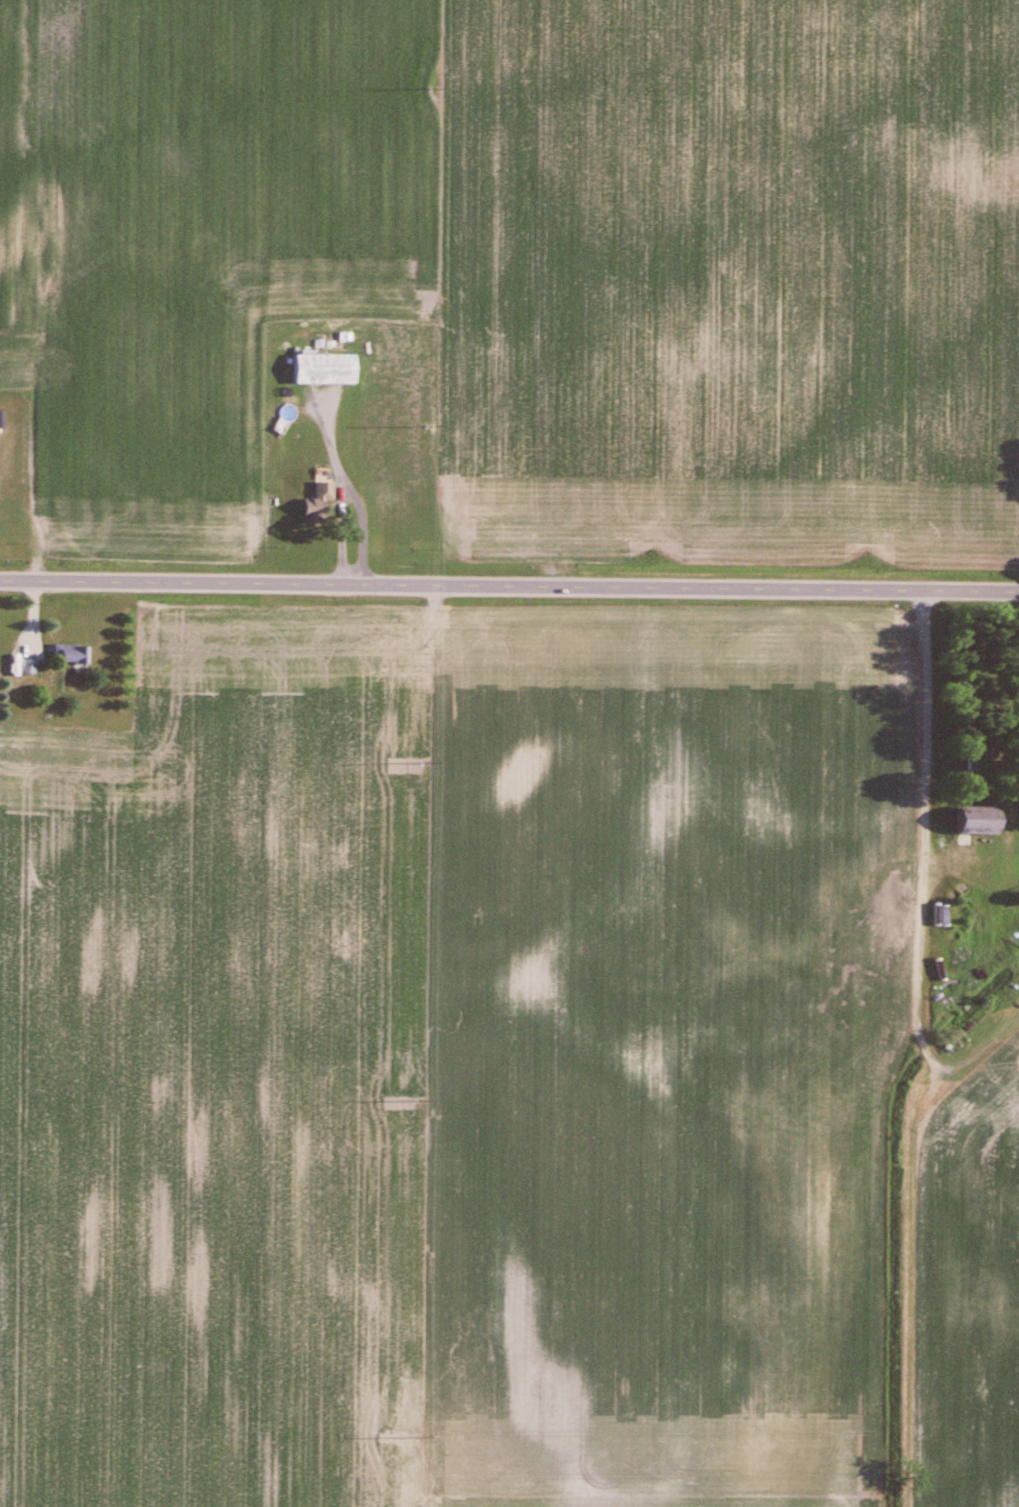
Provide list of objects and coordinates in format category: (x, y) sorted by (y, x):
building: (321, 370)
road: (339, 487)
building: (315, 505)
road: (509, 590)
building: (68, 654)
building: (27, 668)
building: (970, 821)

